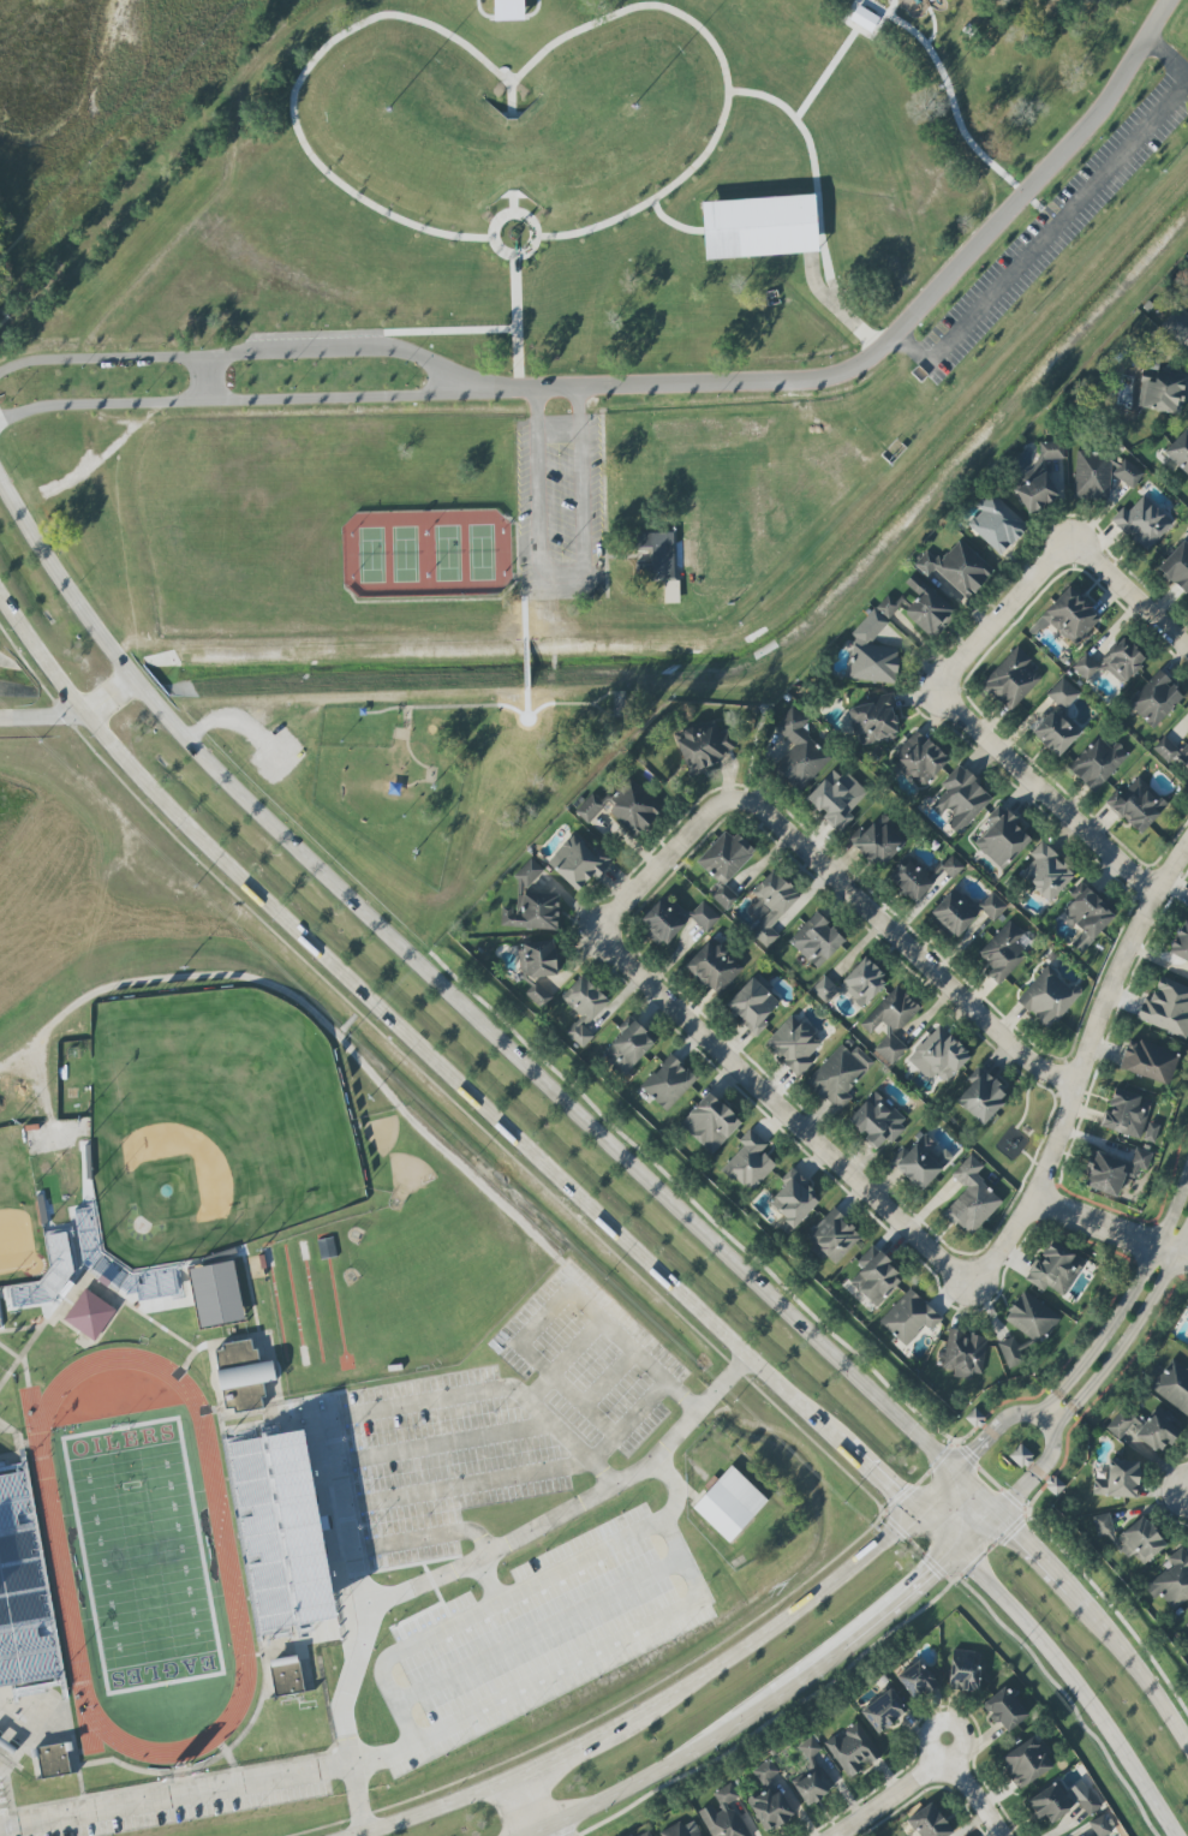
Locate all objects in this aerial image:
building: (508, 10)
building: (864, 18)
road: (950, 94)
road: (1058, 223)
building: (759, 227)
road: (843, 312)
building: (1176, 324)
road: (894, 344)
road: (342, 354)
road: (115, 364)
road: (14, 370)
park: (573, 370)
road: (205, 386)
building: (1163, 392)
road: (277, 405)
road: (43, 411)
building: (759, 451)
building: (1180, 451)
road: (753, 461)
road: (746, 472)
building: (1128, 473)
building: (1092, 476)
building: (1039, 478)
parking lot: (563, 508)
road: (757, 515)
building: (997, 523)
building: (1142, 523)
building: (775, 524)
building: (692, 525)
road: (758, 535)
road: (629, 555)
building: (658, 556)
building: (1176, 567)
building: (957, 568)
road: (563, 573)
building: (708, 590)
building: (673, 592)
road: (1135, 598)
building: (926, 607)
road: (1005, 612)
building: (1068, 618)
building: (873, 652)
building: (1112, 662)
building: (1010, 679)
building: (1063, 693)
building: (1156, 699)
road: (585, 704)
building: (621, 704)
road: (605, 711)
road: (71, 715)
building: (876, 720)
building: (1057, 732)
building: (705, 746)
building: (799, 752)
building: (1172, 753)
building: (919, 758)
building: (1097, 763)
road: (1046, 794)
building: (836, 798)
building: (961, 800)
building: (1138, 804)
road: (520, 805)
building: (623, 807)
building: (1001, 837)
building: (876, 844)
building: (578, 863)
building: (724, 864)
road: (662, 865)
building: (953, 866)
building: (529, 872)
building: (1046, 874)
building: (911, 880)
building: (770, 906)
building: (992, 906)
building: (532, 912)
building: (954, 912)
building: (704, 916)
building: (1087, 918)
building: (659, 923)
building: (816, 940)
road: (900, 941)
building: (1181, 942)
building: (1004, 952)
building: (714, 967)
building: (537, 968)
building: (862, 982)
building: (824, 989)
building: (1047, 997)
building: (752, 1006)
building: (1166, 1007)
building: (583, 1008)
road: (1098, 1018)
building: (891, 1024)
building: (794, 1044)
building: (627, 1049)
building: (938, 1056)
building: (1148, 1061)
road: (441, 1068)
building: (840, 1075)
building: (668, 1083)
building: (981, 1096)
road: (784, 1113)
building: (1126, 1114)
road: (584, 1120)
building: (877, 1121)
building: (710, 1122)
park: (214, 1125)
track: (383, 1135)
road: (491, 1137)
building: (750, 1162)
building: (921, 1162)
building: (1114, 1170)
track: (411, 1179)
building: (91, 1188)
stadium: (49, 1192)
building: (972, 1198)
building: (794, 1200)
park: (19, 1215)
road: (84, 1217)
road: (1110, 1230)
stadium: (88, 1233)
building: (48, 1235)
building: (832, 1238)
road: (1005, 1242)
building: (327, 1246)
building: (201, 1262)
building: (1055, 1269)
stadium: (109, 1275)
track: (335, 1277)
building: (876, 1277)
stadium: (156, 1281)
stadium: (59, 1283)
building: (12, 1289)
road: (251, 1292)
building: (216, 1294)
road: (189, 1295)
track: (315, 1304)
track: (297, 1307)
road: (586, 1307)
track: (280, 1311)
building: (90, 1316)
building: (909, 1317)
building: (1032, 1317)
building: (0, 1325)
road: (22, 1331)
road: (165, 1331)
building: (1187, 1335)
road: (253, 1337)
road: (36, 1340)
road: (1098, 1347)
building: (1010, 1352)
building: (965, 1353)
parking lot: (593, 1363)
road: (569, 1365)
road: (12, 1372)
road: (28, 1373)
building: (245, 1376)
road: (611, 1378)
road: (1097, 1381)
building: (1174, 1385)
road: (219, 1396)
road: (217, 1411)
road: (376, 1412)
road: (915, 1412)
track: (36, 1419)
building: (1144, 1429)
road: (966, 1438)
road: (425, 1449)
road: (966, 1455)
building: (1021, 1455)
road: (942, 1456)
road: (6, 1458)
parking lot: (423, 1467)
road: (924, 1478)
road: (990, 1479)
building: (1118, 1479)
building: (1055, 1486)
road: (448, 1488)
road: (937, 1494)
road: (899, 1500)
road: (1014, 1501)
building: (730, 1504)
road: (1027, 1515)
road: (894, 1526)
road: (1011, 1530)
building: (286, 1531)
building: (262, 1536)
stadium: (262, 1536)
building: (1130, 1537)
road: (241, 1539)
road: (611, 1542)
road: (407, 1543)
road: (915, 1548)
road: (991, 1549)
track: (144, 1556)
park: (145, 1558)
road: (972, 1566)
road: (938, 1569)
road: (458, 1570)
stadium: (150, 1572)
road: (44, 1576)
building: (1172, 1581)
building: (22, 1593)
building: (1187, 1626)
road: (541, 1631)
road: (598, 1651)
road: (389, 1653)
road: (1061, 1662)
building: (963, 1671)
building: (287, 1677)
building: (917, 1680)
road: (771, 1695)
road: (658, 1707)
building: (1004, 1710)
road: (784, 1711)
building: (883, 1711)
track: (91, 1727)
building: (10, 1746)
building: (810, 1747)
building: (853, 1749)
road: (24, 1755)
road: (220, 1757)
building: (54, 1762)
building: (1026, 1762)
road: (513, 1784)
building: (813, 1786)
road: (175, 1795)
building: (46, 1798)
building: (1082, 1798)
building: (769, 1799)
road: (885, 1799)
road: (973, 1799)
building: (1049, 1804)
parking lot: (181, 1807)
parking lot: (2, 1813)
building: (723, 1814)
building: (929, 1823)
building: (1099, 1826)
road: (555, 1829)
building: (682, 1830)
building: (645, 1834)

